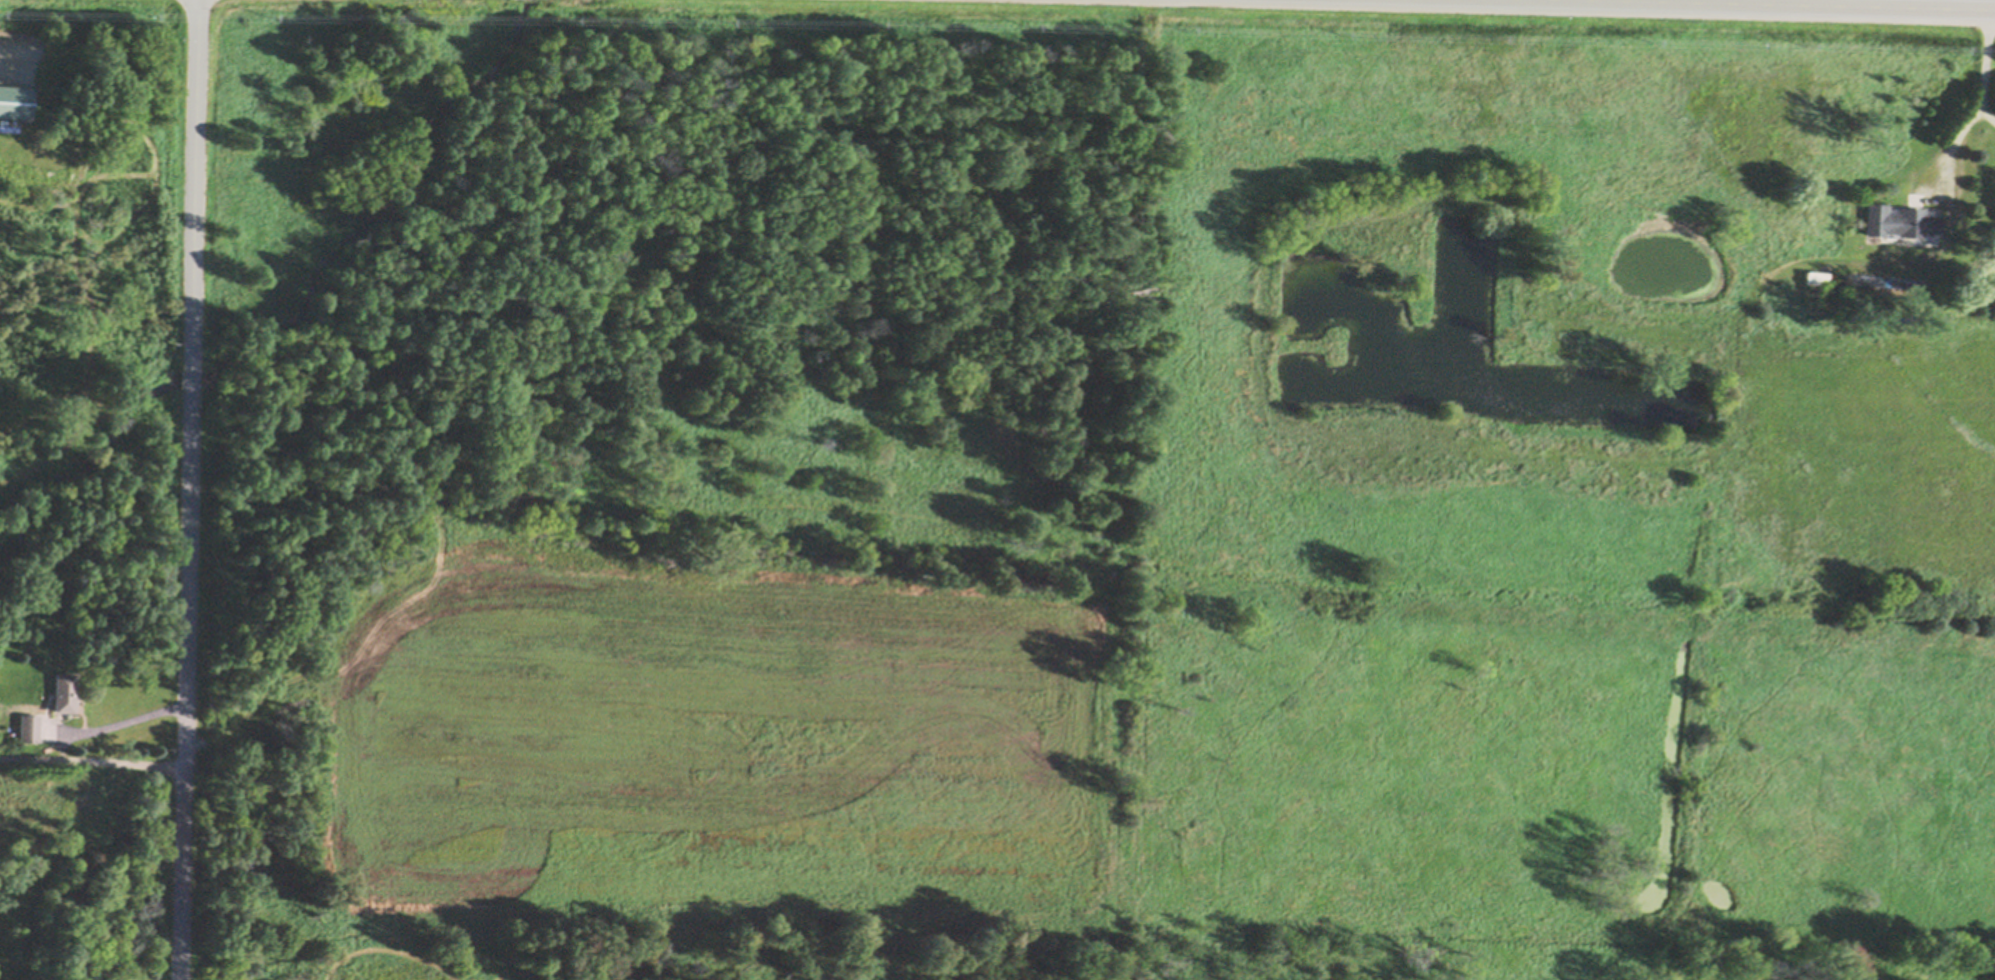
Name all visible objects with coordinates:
river: (521, 1)
road: (1809, 5)
road: (1981, 93)
building: (16, 103)
river: (415, 170)
building: (1902, 222)
building: (1817, 278)
building: (1842, 281)
river: (245, 352)
river: (190, 379)
river: (83, 464)
road: (192, 490)
building: (64, 695)
road: (124, 723)
building: (30, 730)
road: (93, 760)

